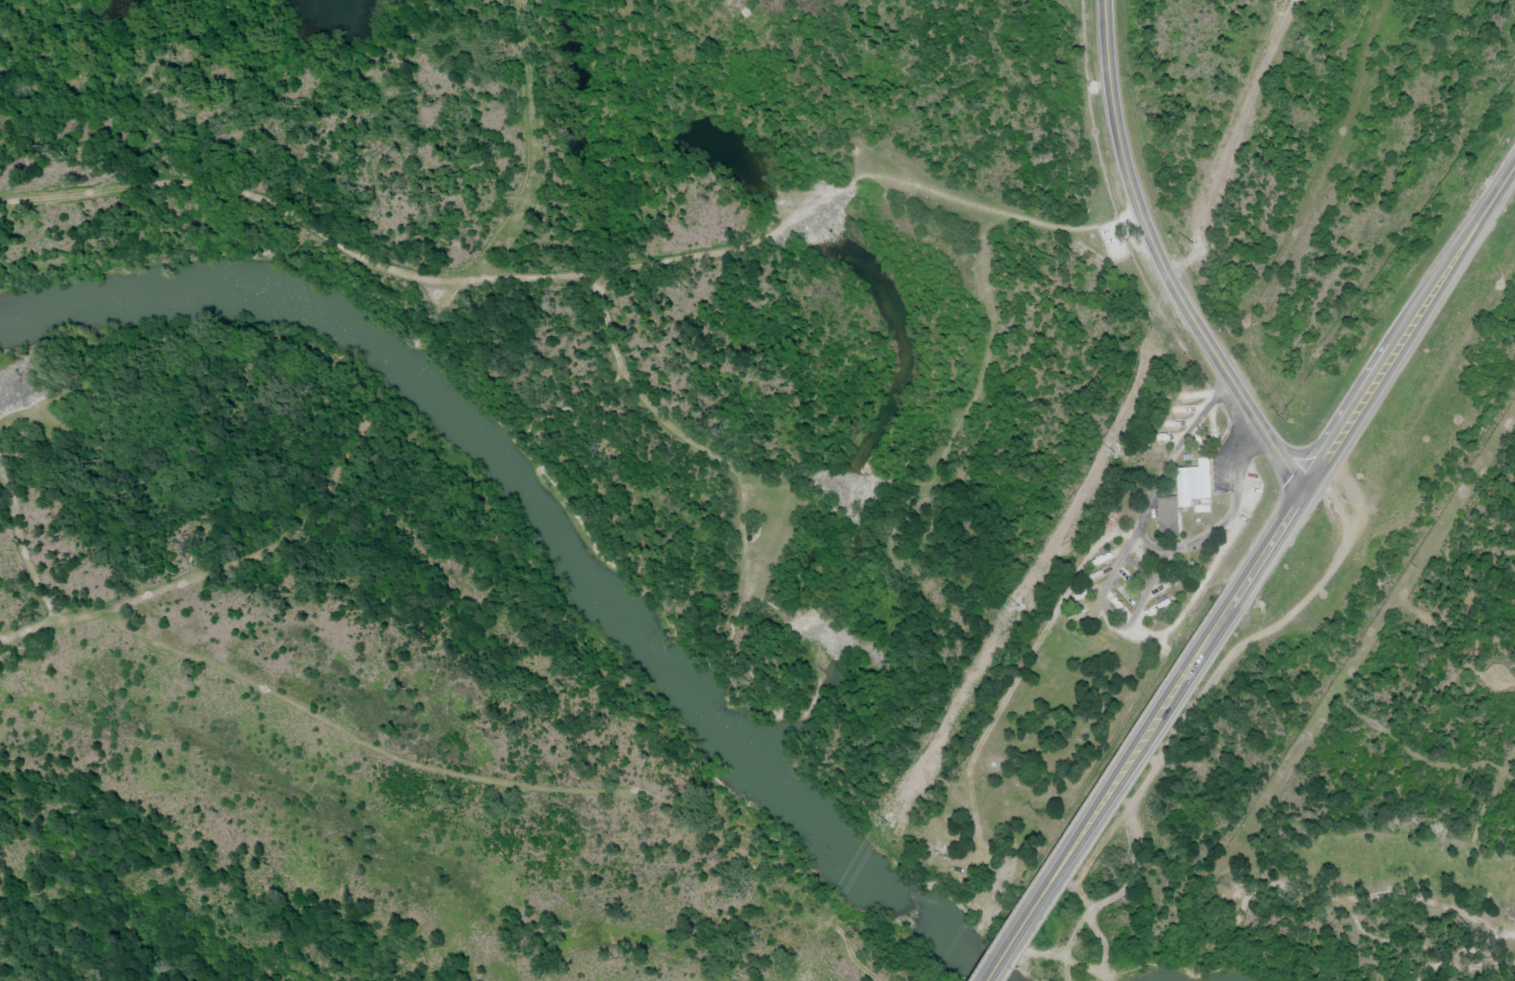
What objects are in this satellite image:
road: (526, 141)
road: (1128, 221)
parking lot: (1115, 239)
power tower: (1191, 248)
road: (1163, 260)
road: (561, 276)
road: (1375, 378)
road: (953, 436)
power tower: (1108, 453)
road: (740, 472)
building: (1193, 484)
road: (854, 486)
railway: (1102, 490)
river: (544, 533)
road: (22, 548)
road: (232, 565)
building: (1162, 604)
power tower: (1017, 607)
park: (1414, 721)
road: (354, 738)
road: (1124, 771)
road: (1489, 796)
power tower: (888, 825)
road: (1503, 936)
road: (1001, 966)

